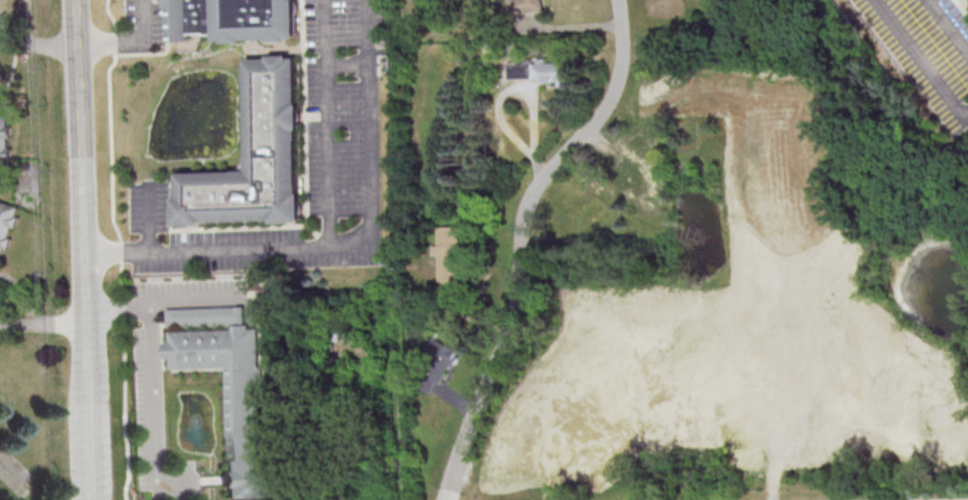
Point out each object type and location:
building: (522, 6)
building: (232, 19)
road: (946, 28)
road: (129, 40)
road: (34, 42)
building: (23, 54)
road: (920, 62)
road: (349, 63)
building: (1, 67)
building: (519, 70)
building: (550, 71)
building: (1, 76)
road: (330, 122)
building: (4, 143)
building: (256, 156)
road: (111, 159)
road: (149, 215)
road: (81, 222)
building: (6, 223)
road: (517, 238)
road: (347, 243)
building: (447, 256)
road: (168, 305)
building: (207, 318)
road: (42, 322)
building: (438, 360)
building: (232, 397)
road: (124, 411)
road: (154, 413)
road: (92, 472)
road: (927, 499)

